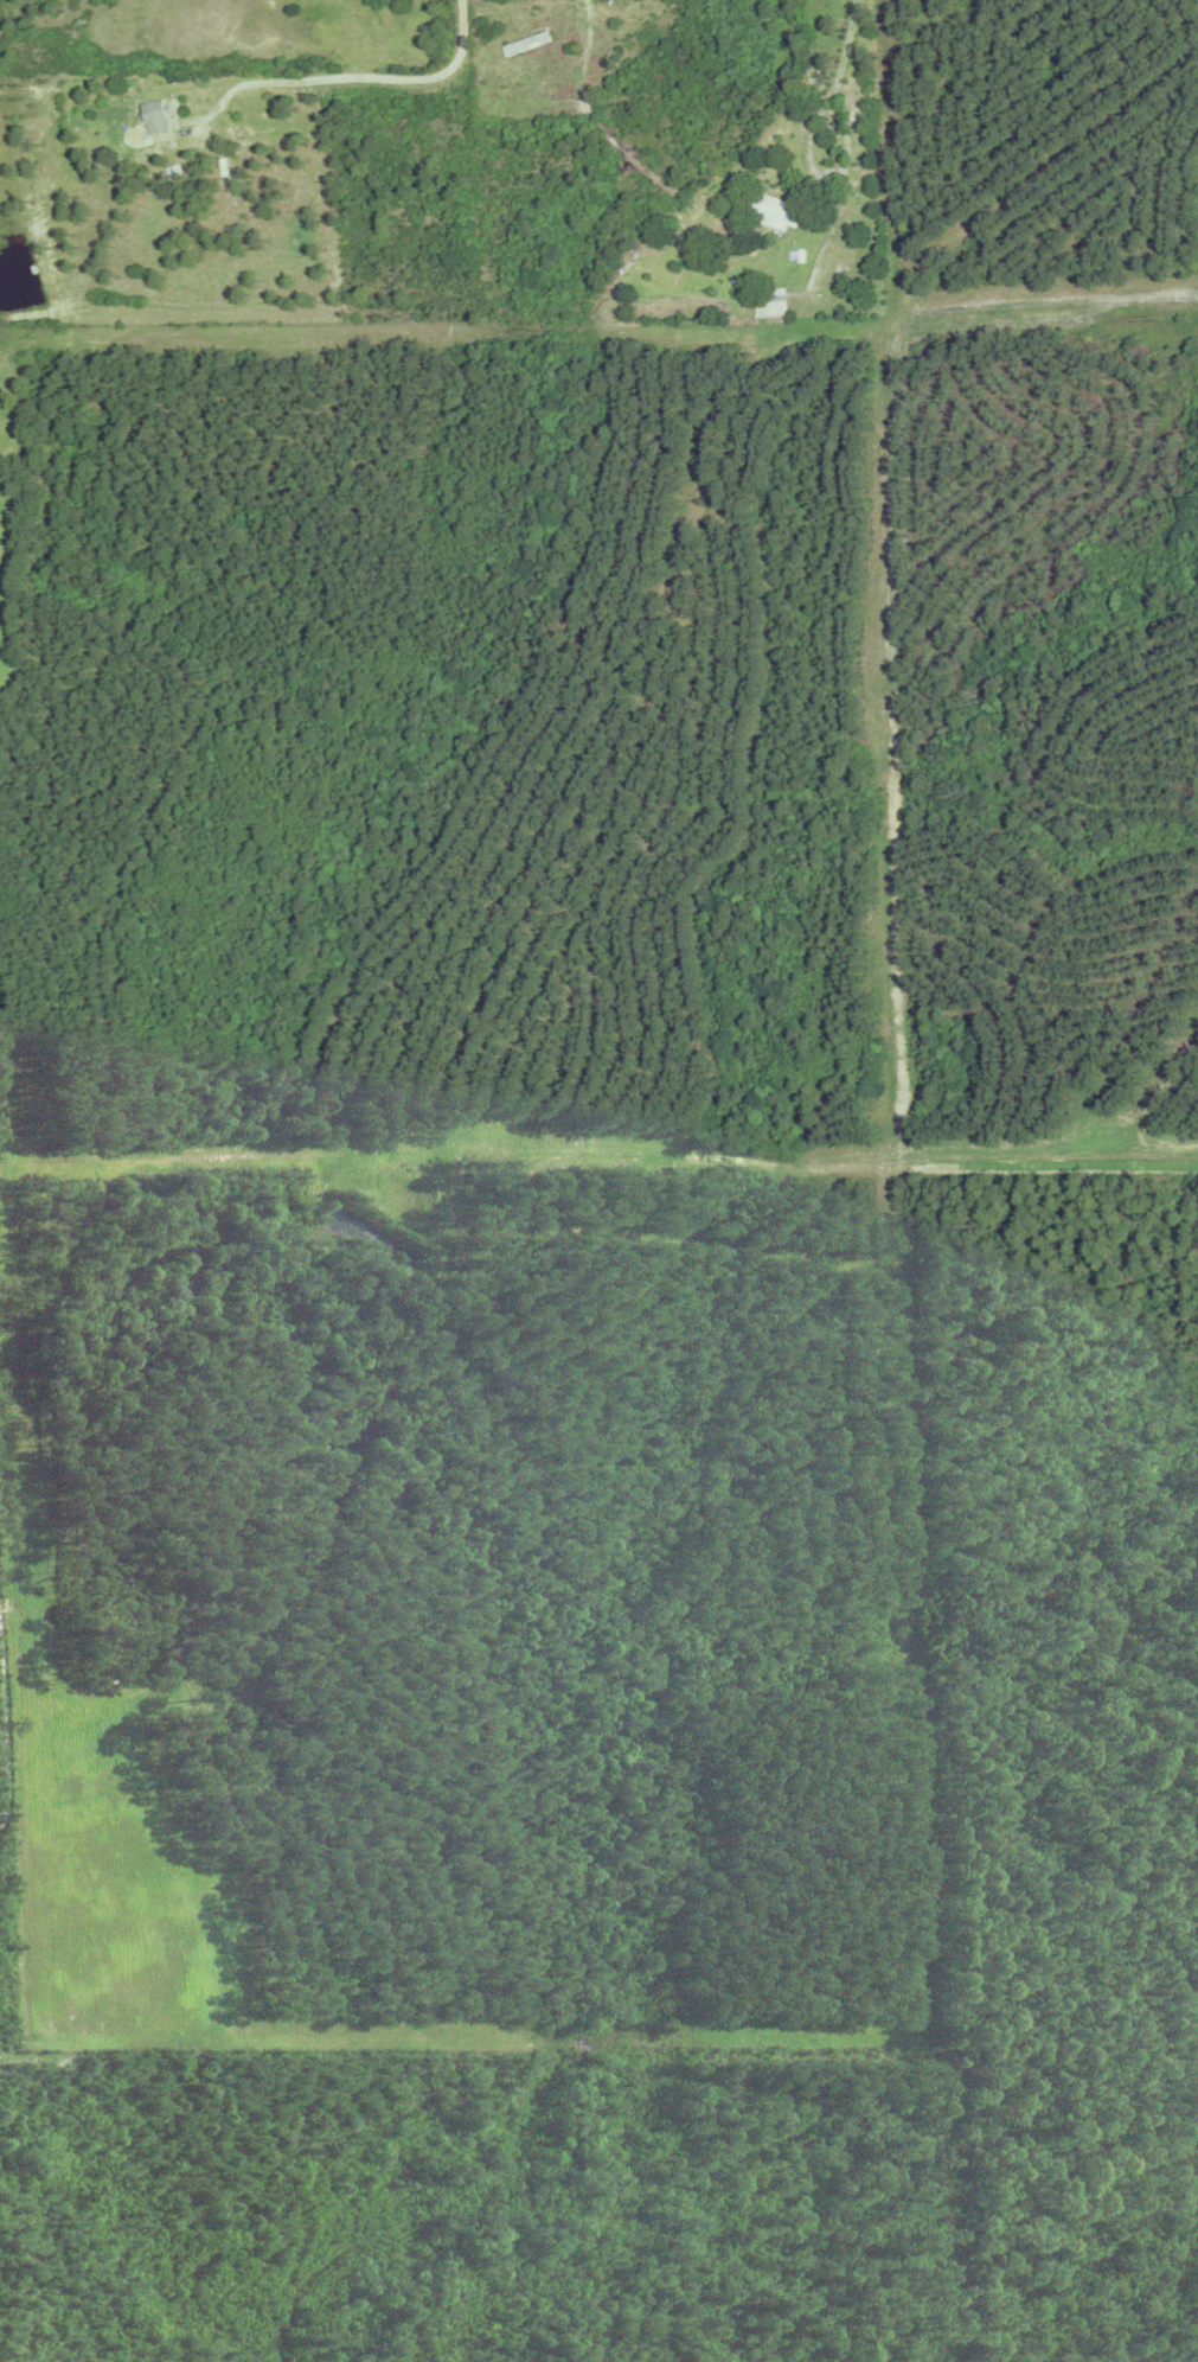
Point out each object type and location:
road: (357, 77)
building: (156, 117)
road: (847, 147)
building: (774, 211)
building: (795, 253)
building: (767, 299)

